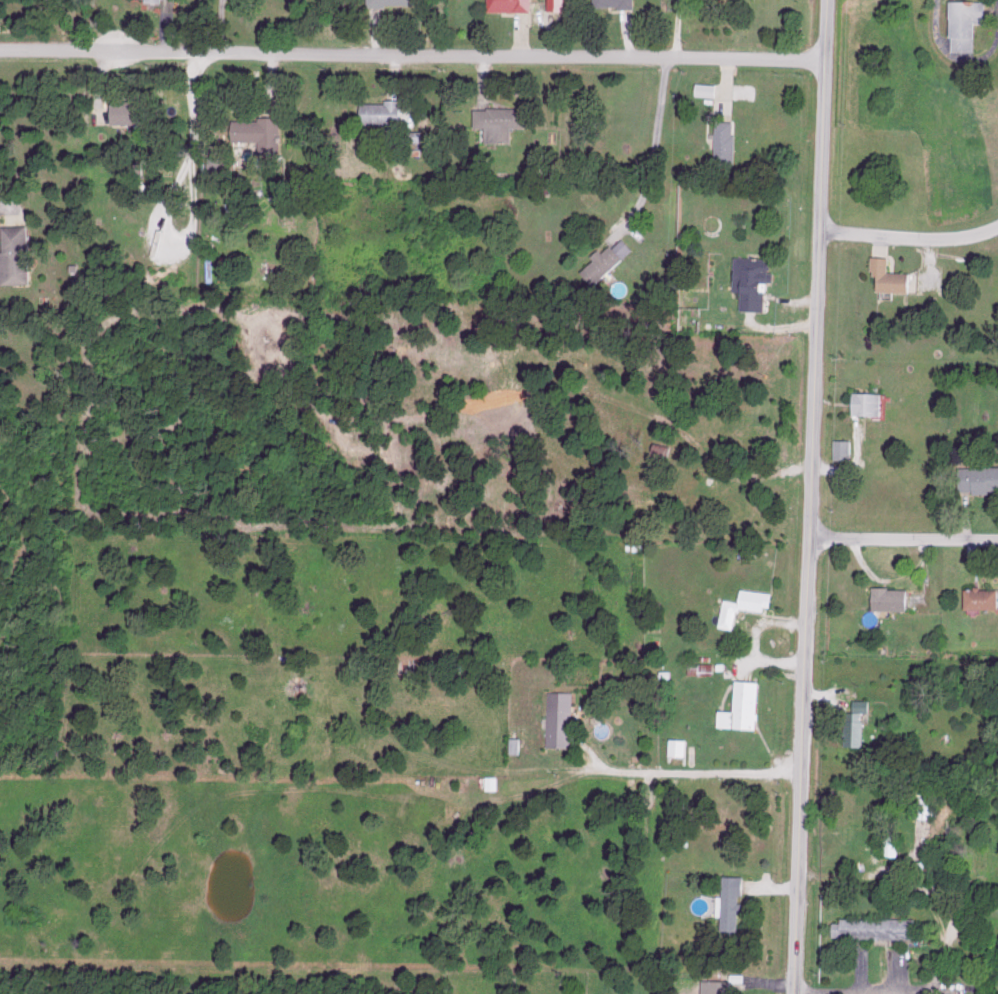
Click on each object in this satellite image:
building: (156, 0)
building: (730, 0)
building: (398, 2)
building: (616, 3)
building: (558, 4)
building: (513, 5)
building: (969, 22)
road: (681, 28)
road: (413, 55)
building: (134, 112)
building: (383, 112)
building: (503, 122)
building: (261, 132)
building: (727, 142)
road: (653, 149)
building: (538, 161)
building: (218, 164)
road: (909, 237)
building: (18, 254)
building: (604, 259)
building: (886, 276)
building: (748, 281)
building: (866, 403)
building: (840, 448)
building: (978, 478)
road: (811, 496)
road: (904, 538)
building: (885, 597)
building: (977, 597)
building: (739, 605)
building: (738, 706)
building: (558, 718)
building: (851, 732)
building: (674, 746)
road: (686, 773)
building: (923, 806)
building: (886, 844)
road: (885, 887)
building: (728, 901)
building: (871, 927)
building: (714, 986)
road: (919, 990)

